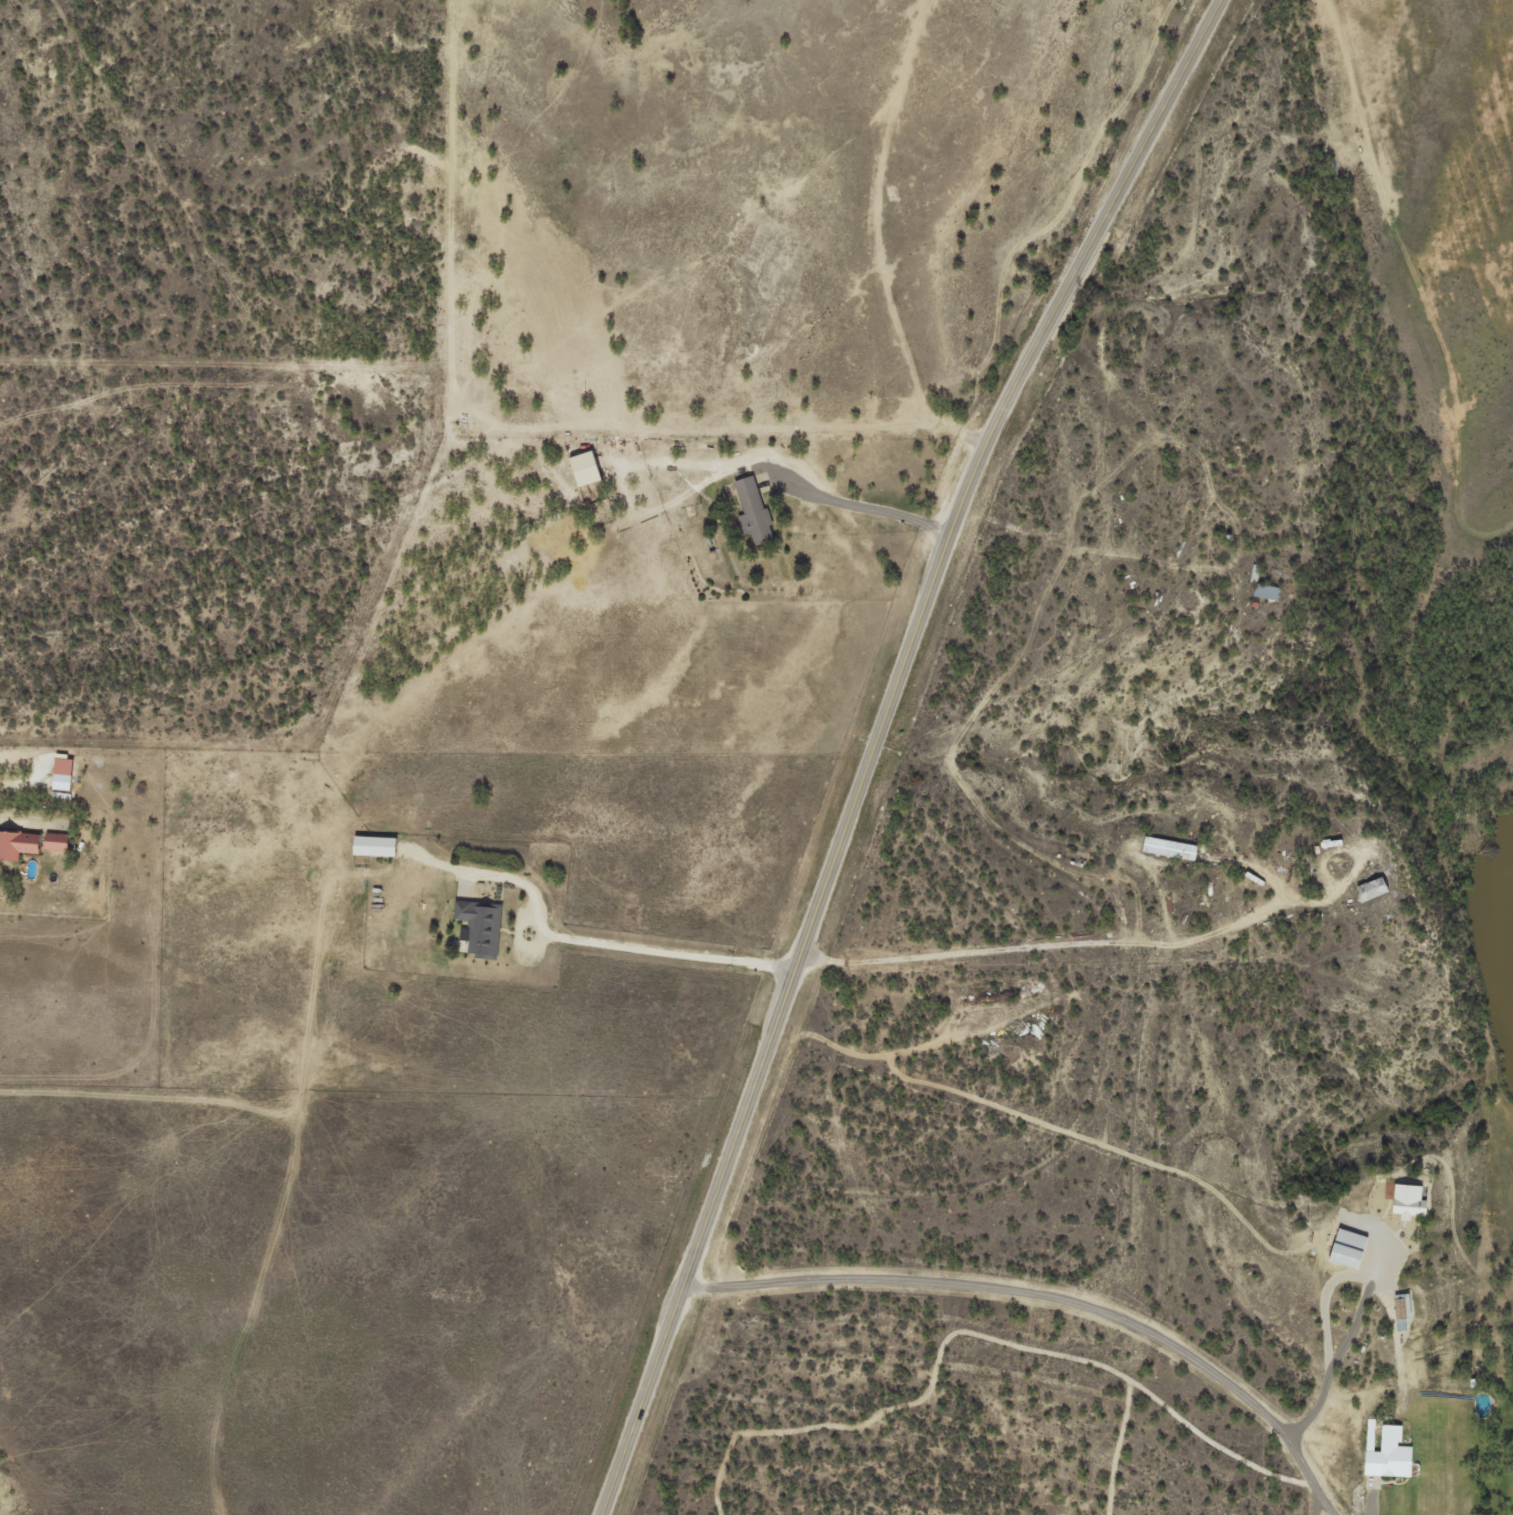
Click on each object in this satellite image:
building: (589, 468)
building: (756, 512)
building: (1257, 573)
building: (1268, 592)
road: (877, 742)
building: (66, 774)
building: (60, 841)
building: (19, 845)
building: (378, 846)
building: (1173, 849)
building: (1375, 889)
building: (483, 927)
building: (1412, 1200)
building: (1352, 1247)
building: (1405, 1310)
building: (1391, 1453)

